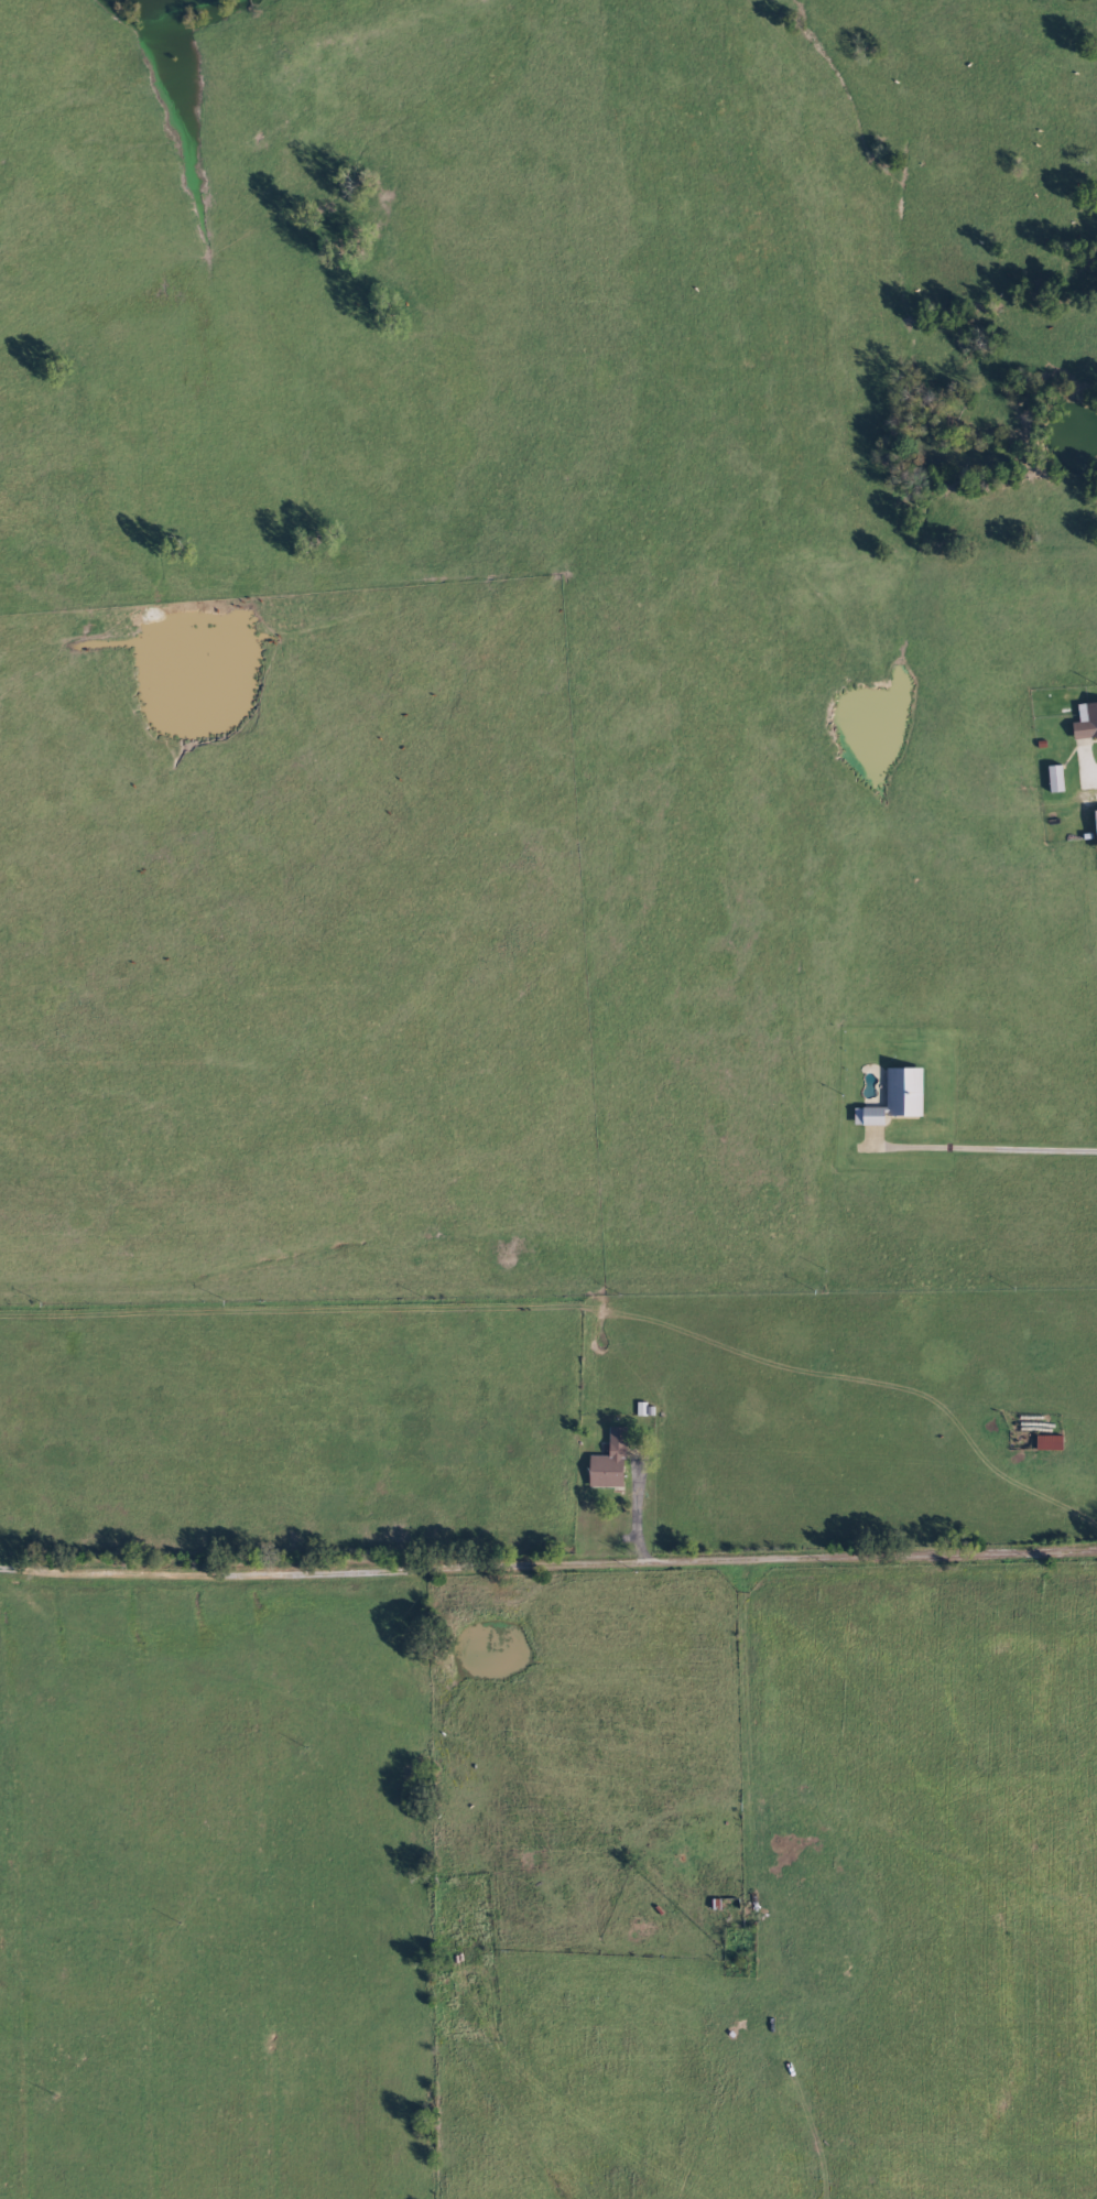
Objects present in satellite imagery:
building: (1088, 724)
building: (1060, 780)
road: (987, 844)
building: (900, 1099)
building: (1053, 1443)
building: (613, 1463)

